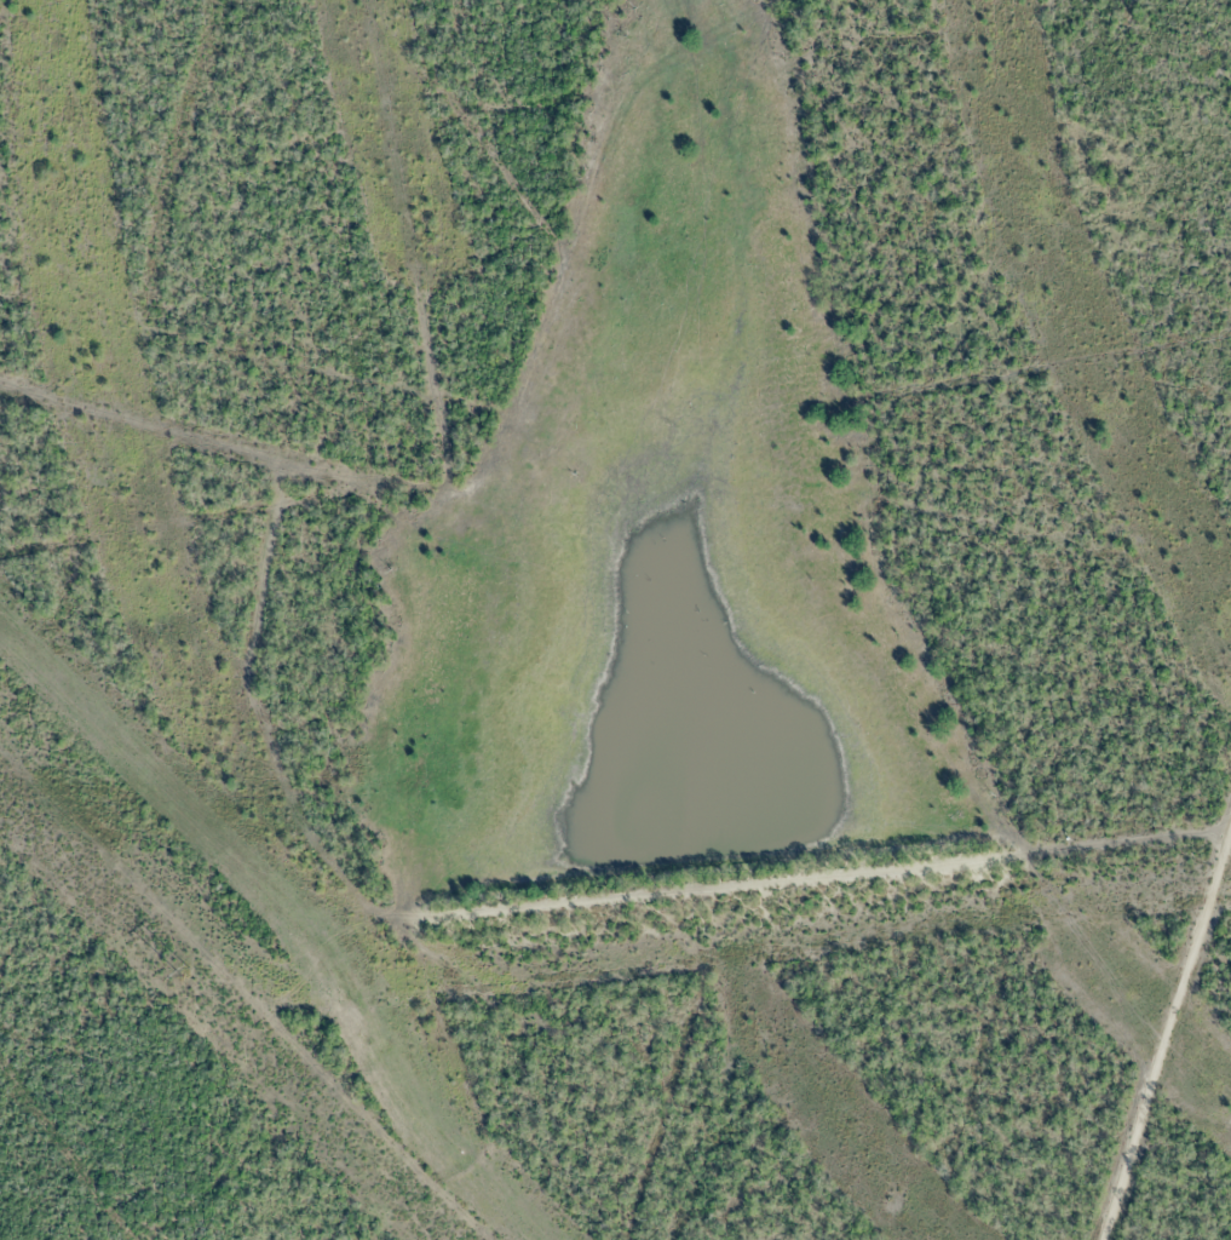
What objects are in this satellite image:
power tower: (185, 974)

